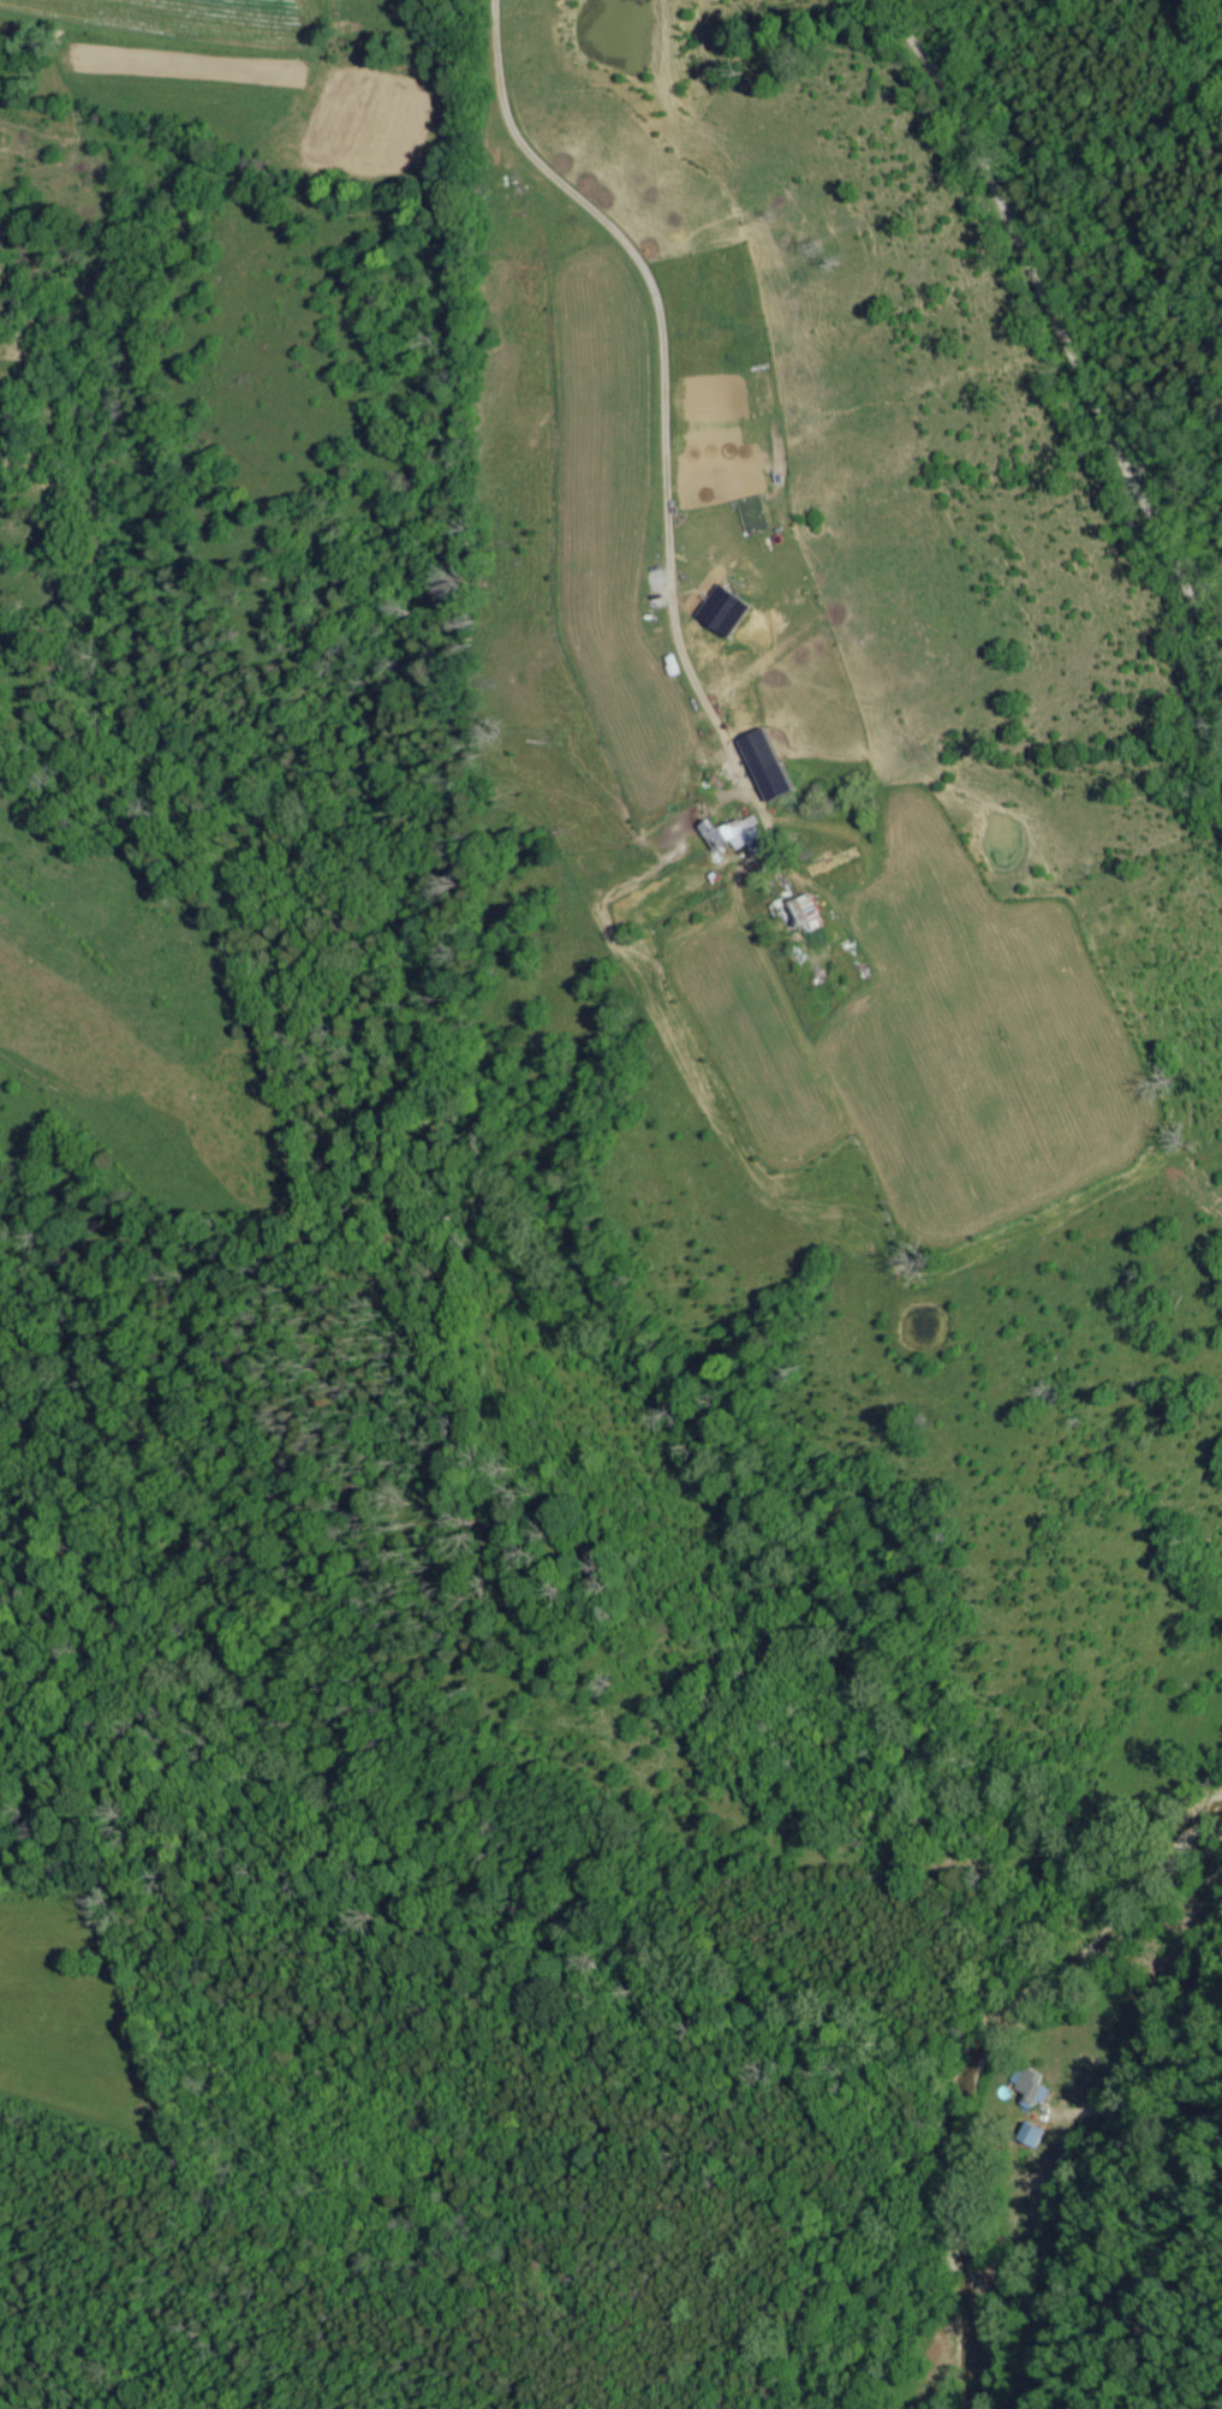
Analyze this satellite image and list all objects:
road: (1063, 317)
road: (657, 381)
building: (726, 612)
building: (768, 766)
building: (732, 833)
building: (805, 922)
building: (1029, 2092)
building: (1031, 2137)
road: (1103, 2172)

